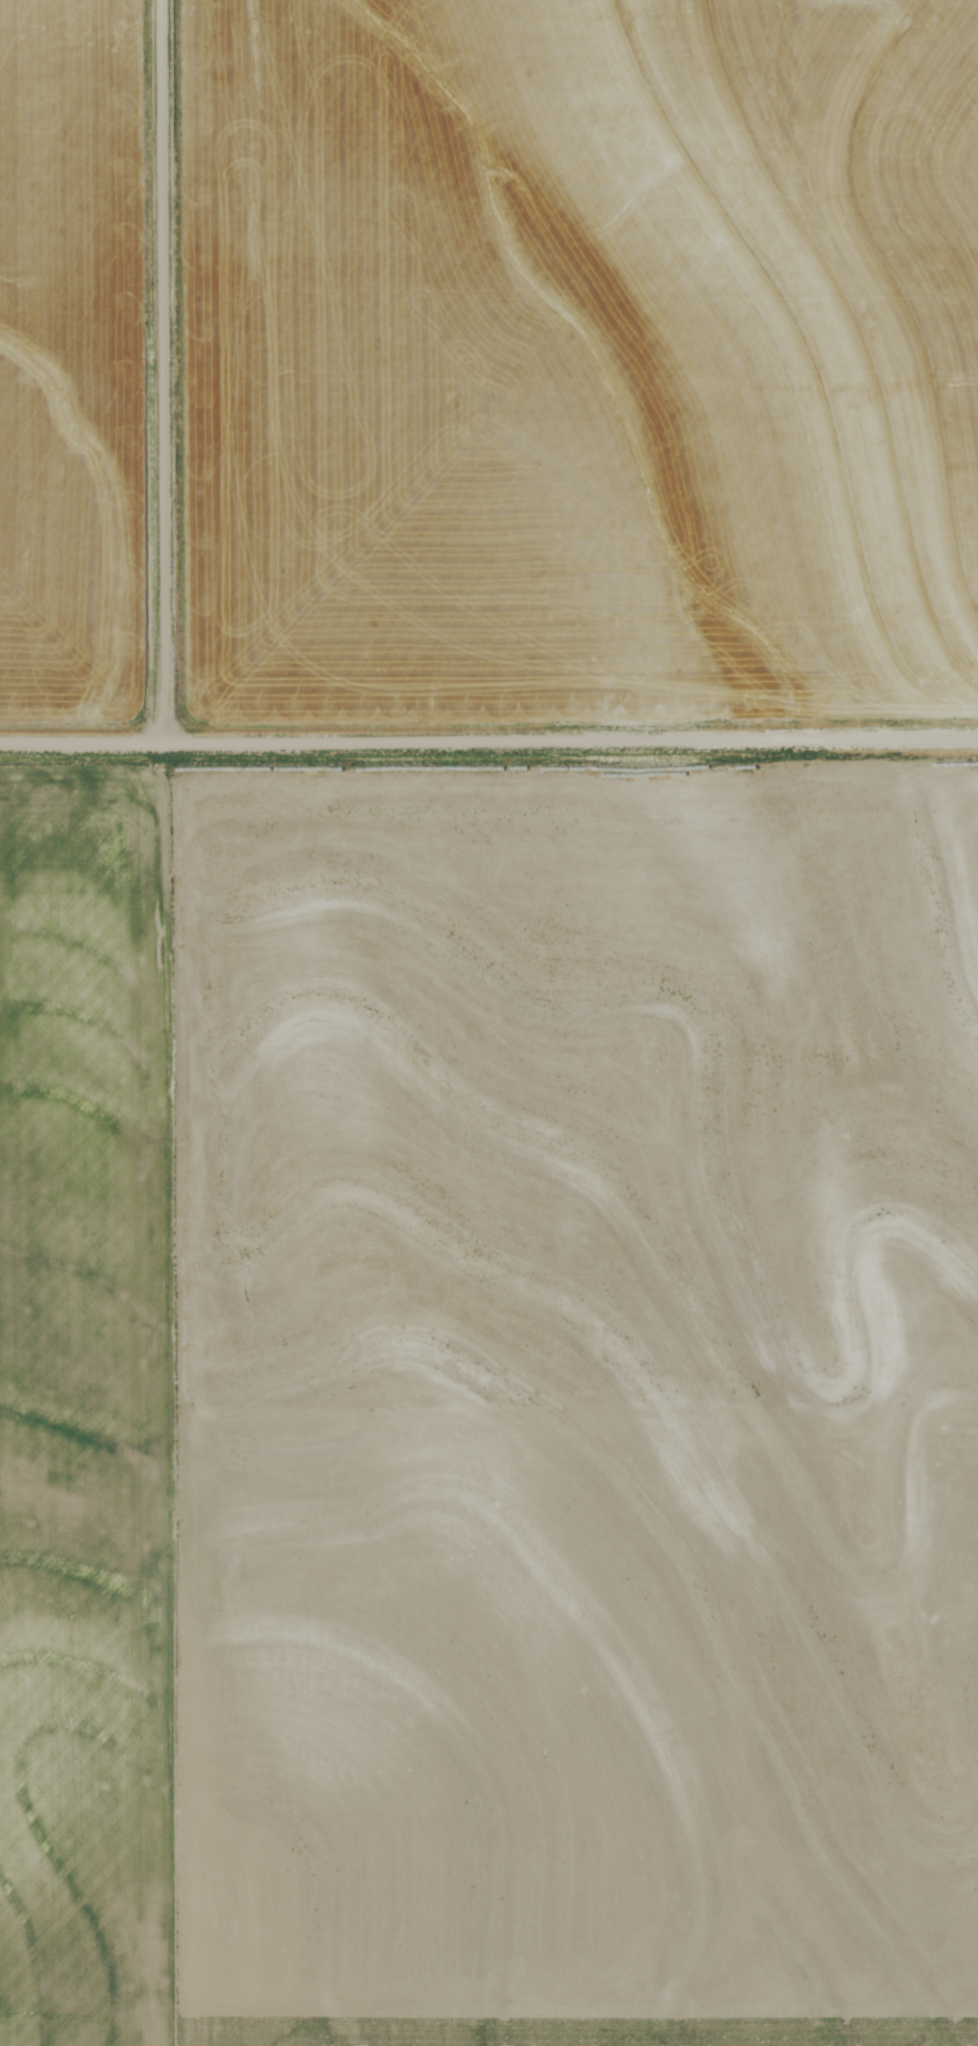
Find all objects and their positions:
road: (166, 372)
road: (489, 742)

